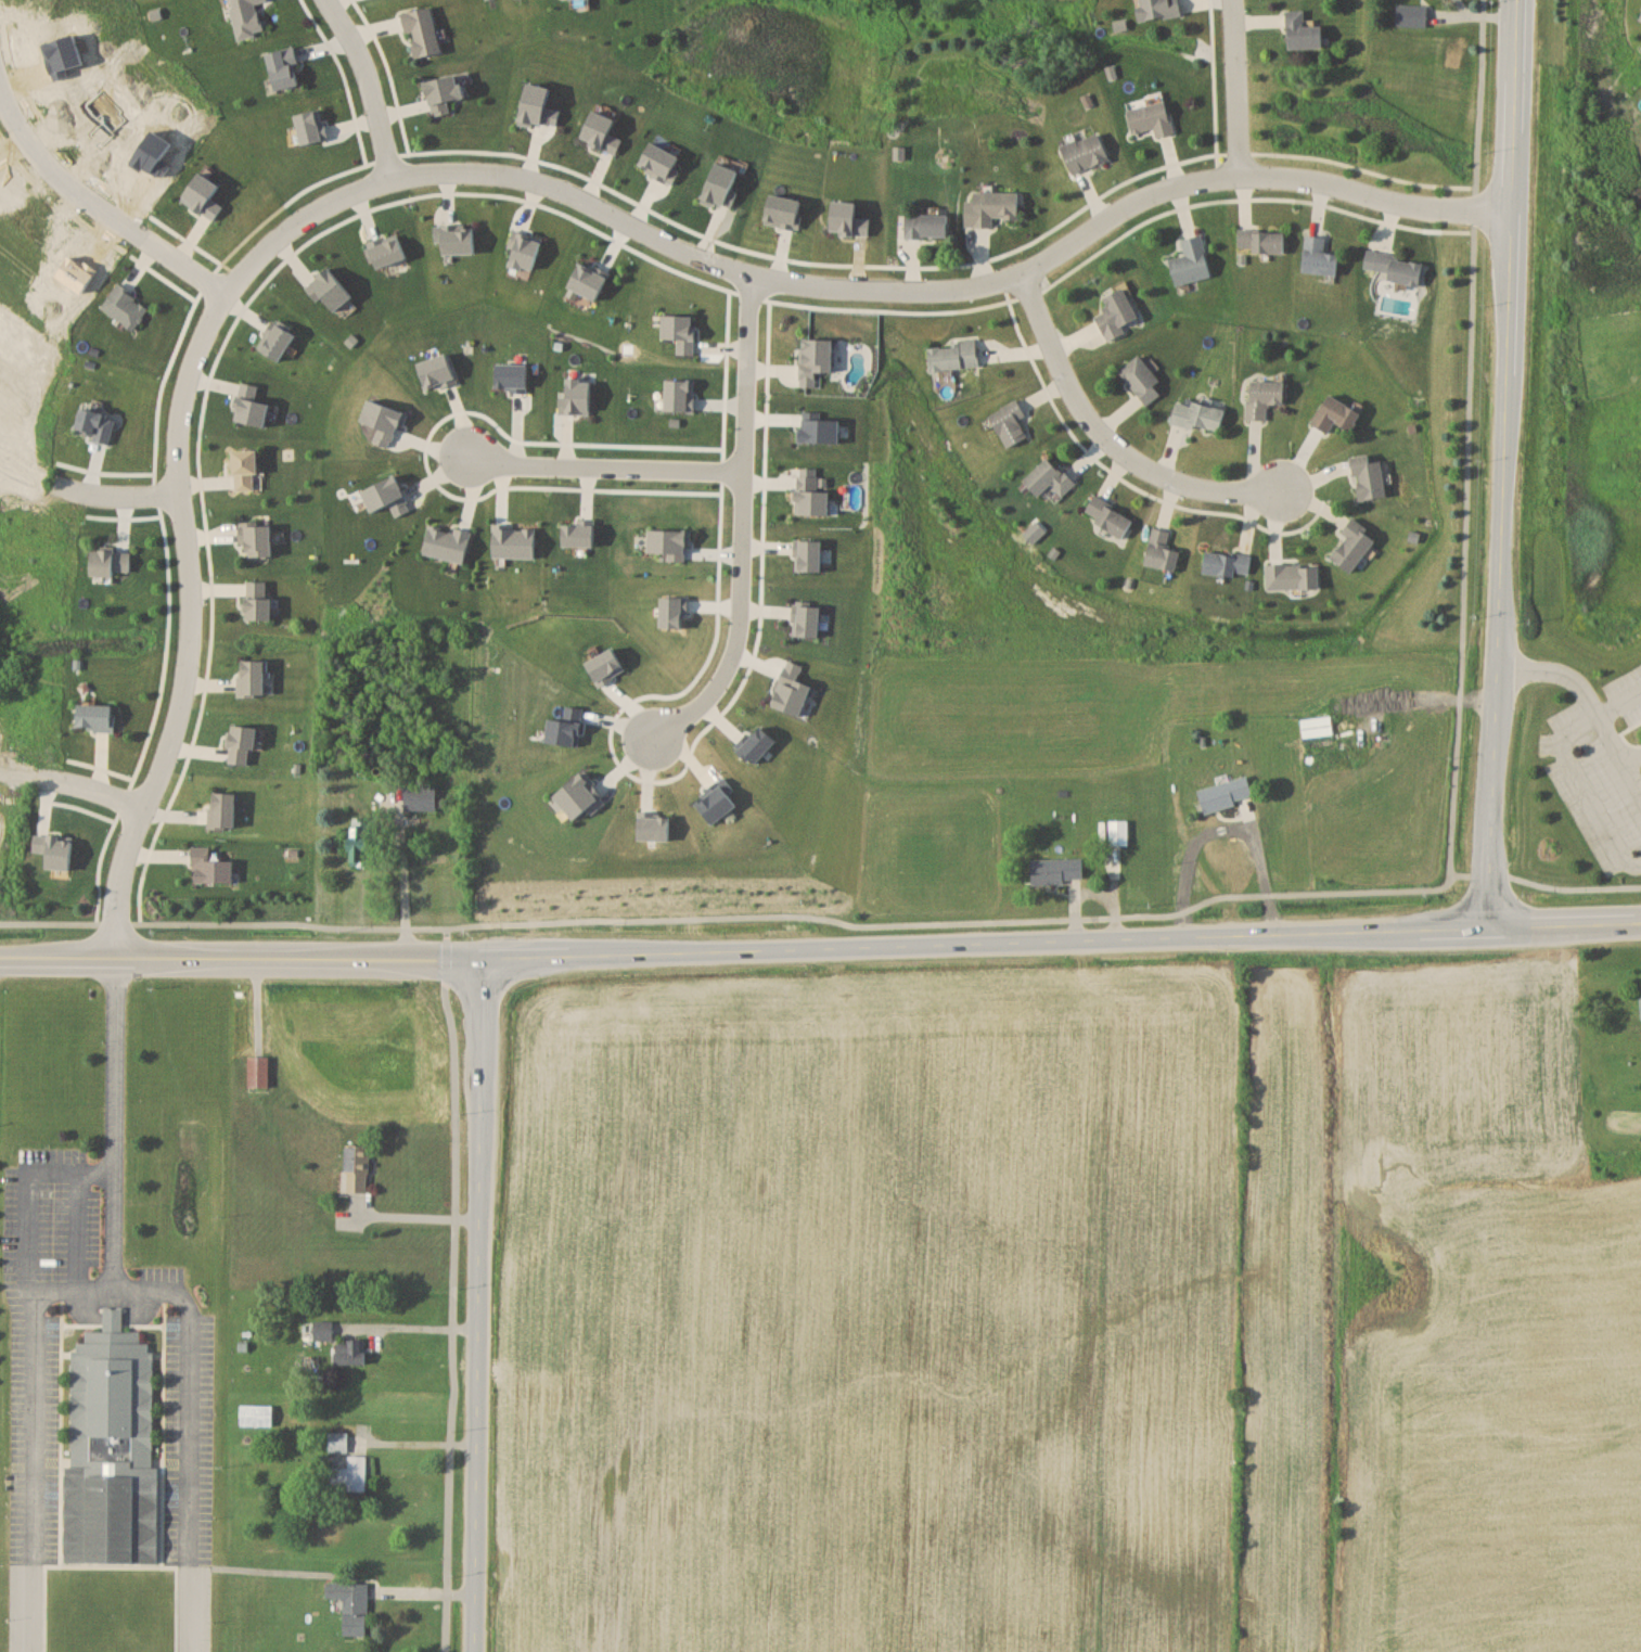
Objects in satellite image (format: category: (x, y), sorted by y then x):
building: (1159, 9)
building: (1411, 14)
building: (246, 17)
building: (1640, 17)
building: (422, 31)
building: (1303, 31)
building: (284, 67)
road: (369, 85)
road: (1236, 87)
building: (1152, 117)
building: (1086, 152)
road: (531, 182)
road: (99, 207)
building: (991, 207)
building: (927, 225)
building: (1261, 240)
building: (1319, 256)
building: (1192, 259)
building: (1396, 266)
building: (126, 306)
building: (1117, 313)
building: (952, 355)
building: (1142, 377)
building: (25, 395)
building: (1265, 397)
building: (251, 405)
building: (1336, 414)
building: (1198, 415)
building: (1010, 422)
building: (95, 424)
road: (1464, 436)
road: (1103, 438)
road: (1509, 462)
road: (604, 466)
building: (1050, 477)
building: (1369, 477)
road: (85, 495)
building: (1108, 515)
road: (740, 524)
building: (256, 538)
building: (1355, 545)
building: (1162, 550)
building: (41, 555)
building: (111, 562)
building: (1227, 563)
building: (1293, 576)
building: (258, 600)
building: (252, 678)
parking lot: (1627, 692)
road: (1590, 699)
building: (95, 716)
building: (1317, 726)
building: (242, 745)
road: (1632, 755)
road: (1578, 769)
parking lot: (1593, 786)
road: (92, 791)
building: (1227, 793)
building: (420, 797)
building: (222, 810)
road: (1225, 824)
building: (1118, 832)
building: (360, 843)
building: (54, 849)
building: (209, 867)
building: (1057, 869)
road: (405, 883)
road: (828, 919)
road: (1562, 920)
road: (983, 942)
road: (241, 957)
park: (1614, 1043)
building: (257, 1072)
building: (357, 1169)
road: (418, 1216)
road: (73, 1232)
road: (110, 1233)
road: (26, 1264)
road: (454, 1289)
road: (479, 1304)
road: (416, 1329)
building: (322, 1331)
building: (349, 1353)
road: (185, 1400)
building: (256, 1416)
building: (337, 1443)
road: (420, 1443)
building: (112, 1447)
building: (356, 1473)
building: (351, 1604)

